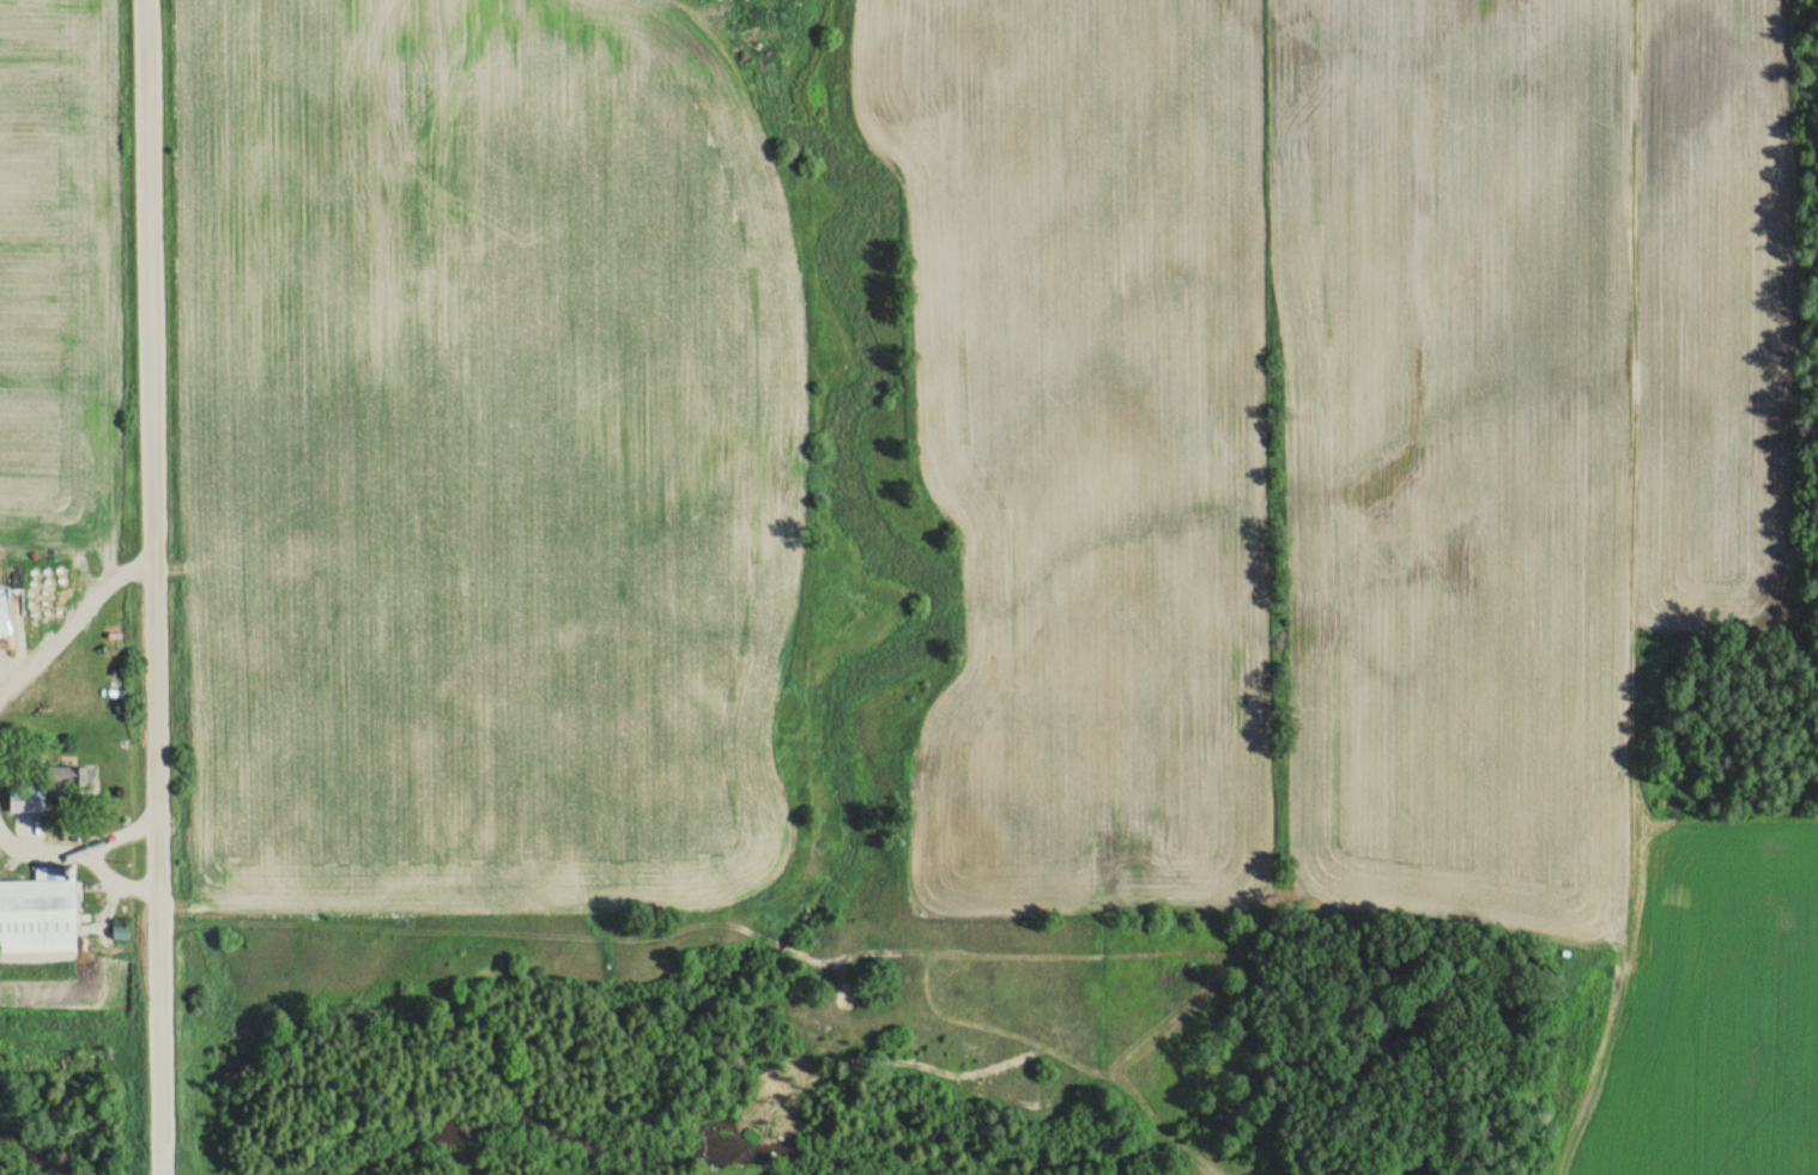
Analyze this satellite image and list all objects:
road: (154, 587)
road: (67, 619)
building: (25, 799)
road: (29, 824)
road: (30, 841)
road: (77, 846)
road: (115, 878)
road: (107, 906)
building: (35, 914)
river: (601, 1139)
river: (34, 1150)

